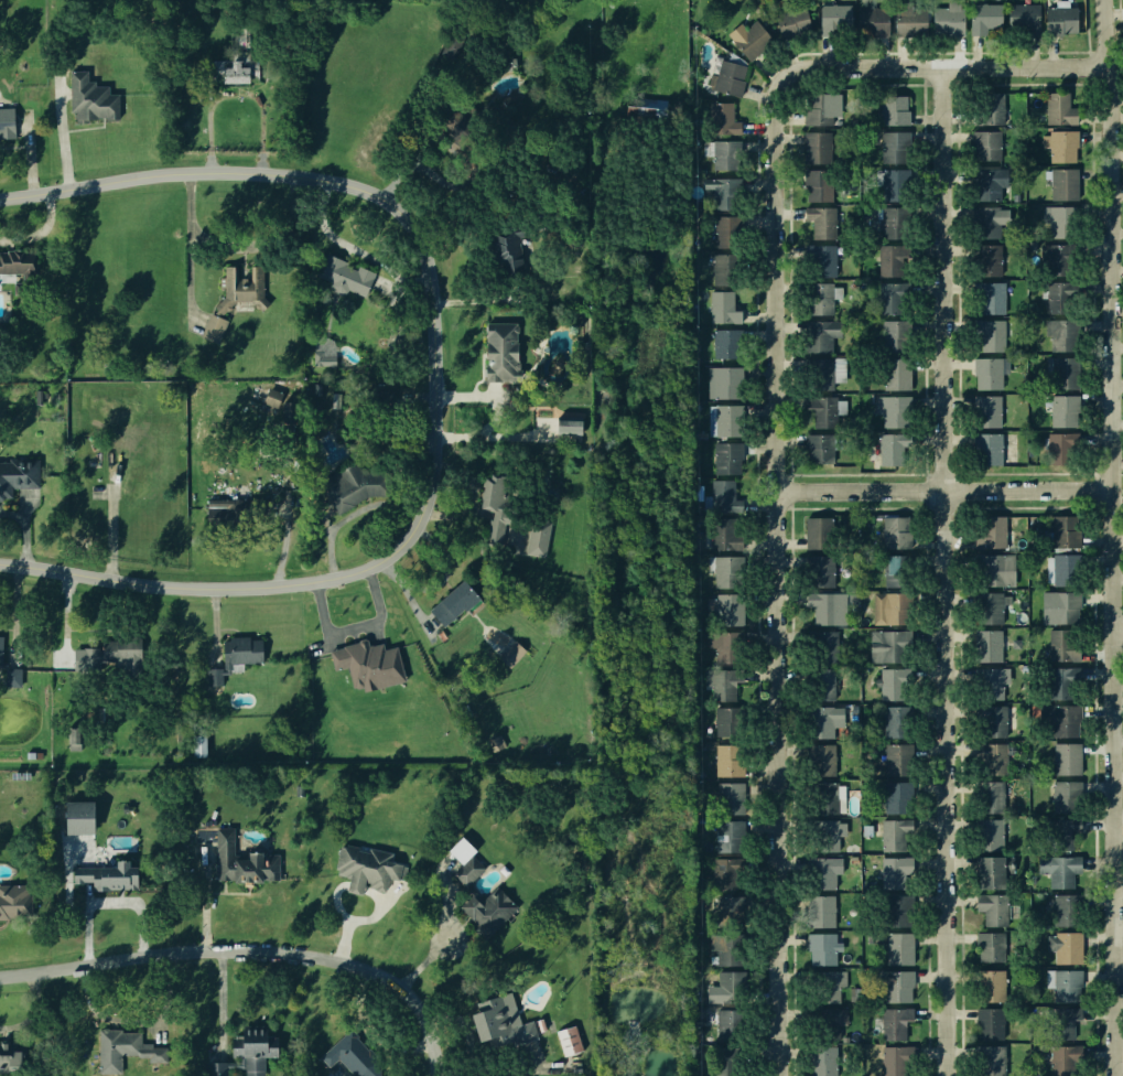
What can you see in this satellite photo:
building: (984, 17)
building: (1024, 17)
building: (949, 19)
building: (1061, 19)
building: (835, 20)
building: (909, 20)
building: (872, 21)
building: (792, 22)
building: (749, 39)
building: (501, 66)
road: (952, 67)
building: (230, 72)
building: (727, 78)
building: (87, 97)
building: (648, 107)
building: (989, 108)
building: (1052, 108)
building: (817, 109)
building: (894, 110)
building: (722, 118)
building: (3, 122)
building: (463, 130)
building: (986, 146)
building: (817, 147)
building: (895, 147)
building: (1057, 147)
building: (726, 154)
road: (285, 171)
building: (1062, 183)
building: (895, 184)
building: (983, 184)
building: (818, 185)
building: (723, 192)
building: (1058, 220)
building: (820, 222)
building: (897, 222)
building: (982, 223)
building: (727, 232)
road: (186, 244)
building: (506, 249)
building: (1055, 258)
building: (985, 259)
building: (823, 260)
building: (894, 260)
building: (725, 269)
building: (20, 270)
building: (342, 275)
building: (1058, 297)
building: (820, 298)
building: (890, 298)
building: (991, 298)
building: (234, 299)
building: (723, 308)
building: (989, 333)
building: (821, 335)
building: (895, 335)
building: (1057, 335)
building: (727, 343)
building: (498, 349)
building: (323, 352)
building: (824, 373)
building: (897, 374)
building: (987, 374)
building: (1062, 375)
building: (724, 381)
building: (43, 394)
building: (36, 396)
building: (379, 397)
building: (271, 398)
building: (334, 400)
building: (824, 410)
building: (984, 410)
building: (1057, 410)
building: (288, 412)
building: (892, 412)
building: (724, 420)
building: (563, 423)
building: (821, 448)
building: (1058, 448)
building: (892, 449)
building: (986, 450)
building: (727, 458)
building: (18, 475)
building: (354, 486)
road: (943, 488)
building: (485, 494)
building: (722, 496)
building: (237, 515)
building: (493, 524)
building: (896, 531)
building: (1060, 531)
building: (818, 532)
building: (989, 532)
building: (724, 535)
road: (1115, 537)
building: (534, 541)
road: (771, 569)
building: (991, 569)
building: (1065, 569)
building: (821, 570)
building: (896, 570)
building: (725, 571)
road: (946, 571)
road: (304, 583)
building: (451, 604)
building: (823, 606)
building: (890, 607)
building: (986, 607)
building: (1057, 607)
building: (726, 609)
building: (823, 644)
building: (889, 645)
building: (986, 645)
building: (1060, 645)
building: (724, 646)
building: (114, 654)
building: (510, 656)
building: (235, 657)
building: (364, 663)
building: (10, 671)
building: (722, 682)
building: (823, 682)
building: (986, 682)
building: (1057, 682)
building: (890, 685)
building: (1060, 719)
building: (990, 720)
building: (817, 721)
building: (888, 721)
building: (726, 722)
building: (73, 738)
building: (198, 740)
building: (496, 743)
building: (33, 754)
building: (986, 756)
building: (892, 758)
building: (1065, 758)
building: (728, 760)
building: (822, 760)
building: (298, 790)
building: (730, 797)
building: (824, 797)
building: (893, 797)
building: (989, 797)
building: (1063, 797)
building: (77, 815)
building: (829, 833)
building: (1061, 833)
building: (989, 835)
building: (730, 836)
building: (890, 836)
building: (462, 850)
building: (569, 852)
building: (242, 861)
building: (368, 865)
building: (469, 870)
building: (1060, 870)
building: (892, 871)
building: (992, 871)
building: (821, 873)
building: (108, 875)
building: (727, 875)
building: (15, 902)
building: (893, 907)
building: (993, 907)
building: (487, 908)
building: (1061, 908)
building: (818, 910)
building: (728, 911)
building: (821, 945)
building: (991, 946)
building: (1065, 946)
building: (726, 948)
building: (899, 948)
road: (250, 950)
building: (823, 983)
building: (894, 983)
building: (991, 984)
building: (731, 986)
building: (1063, 986)
building: (824, 1021)
building: (895, 1022)
building: (1062, 1022)
building: (501, 1023)
building: (986, 1023)
building: (730, 1025)
building: (569, 1041)
building: (123, 1048)
building: (245, 1053)
building: (353, 1055)
building: (11, 1056)
building: (1061, 1058)
building: (894, 1059)
building: (989, 1061)
building: (724, 1062)
building: (816, 1062)

